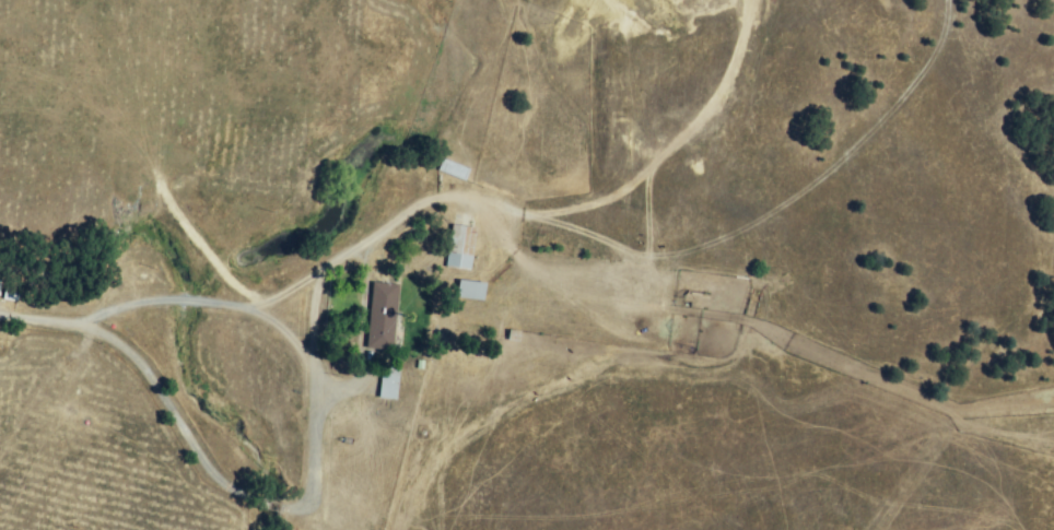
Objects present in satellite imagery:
building: (461, 249)
building: (471, 291)
building: (383, 317)
road: (304, 498)

